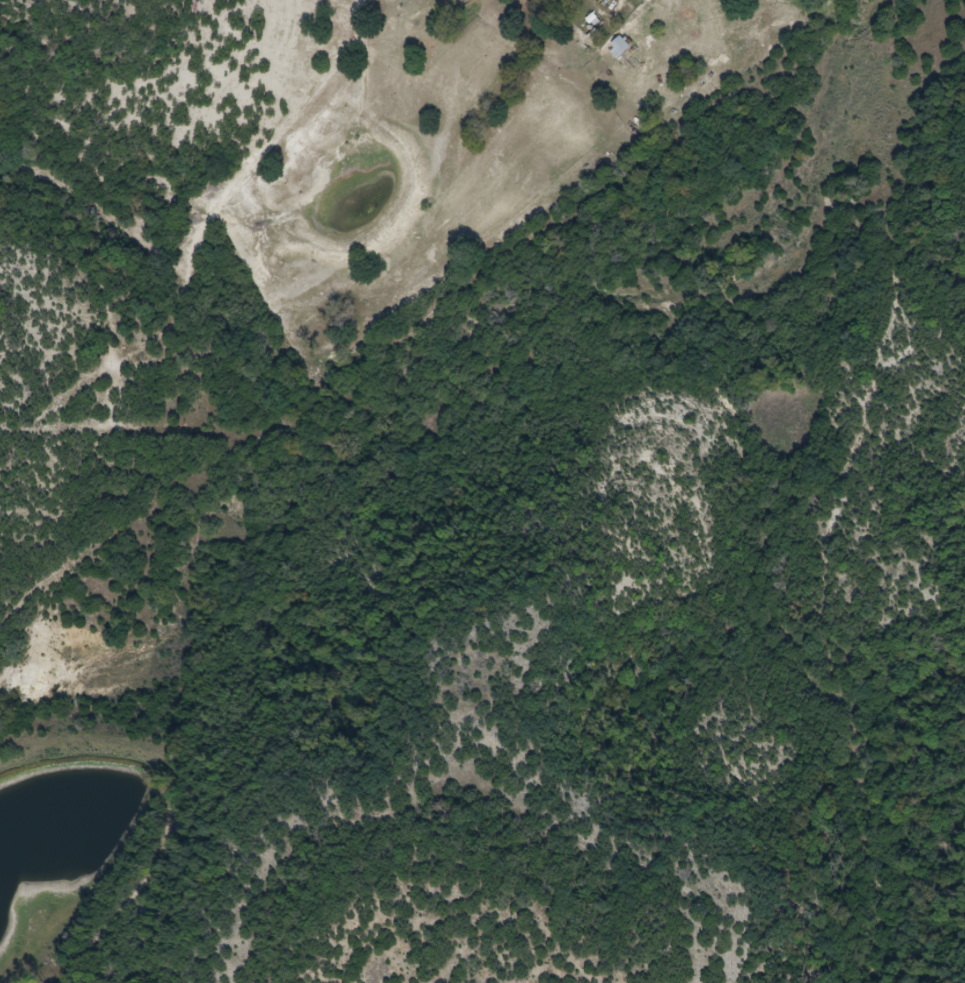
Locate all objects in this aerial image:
building: (626, 50)
road: (390, 62)

